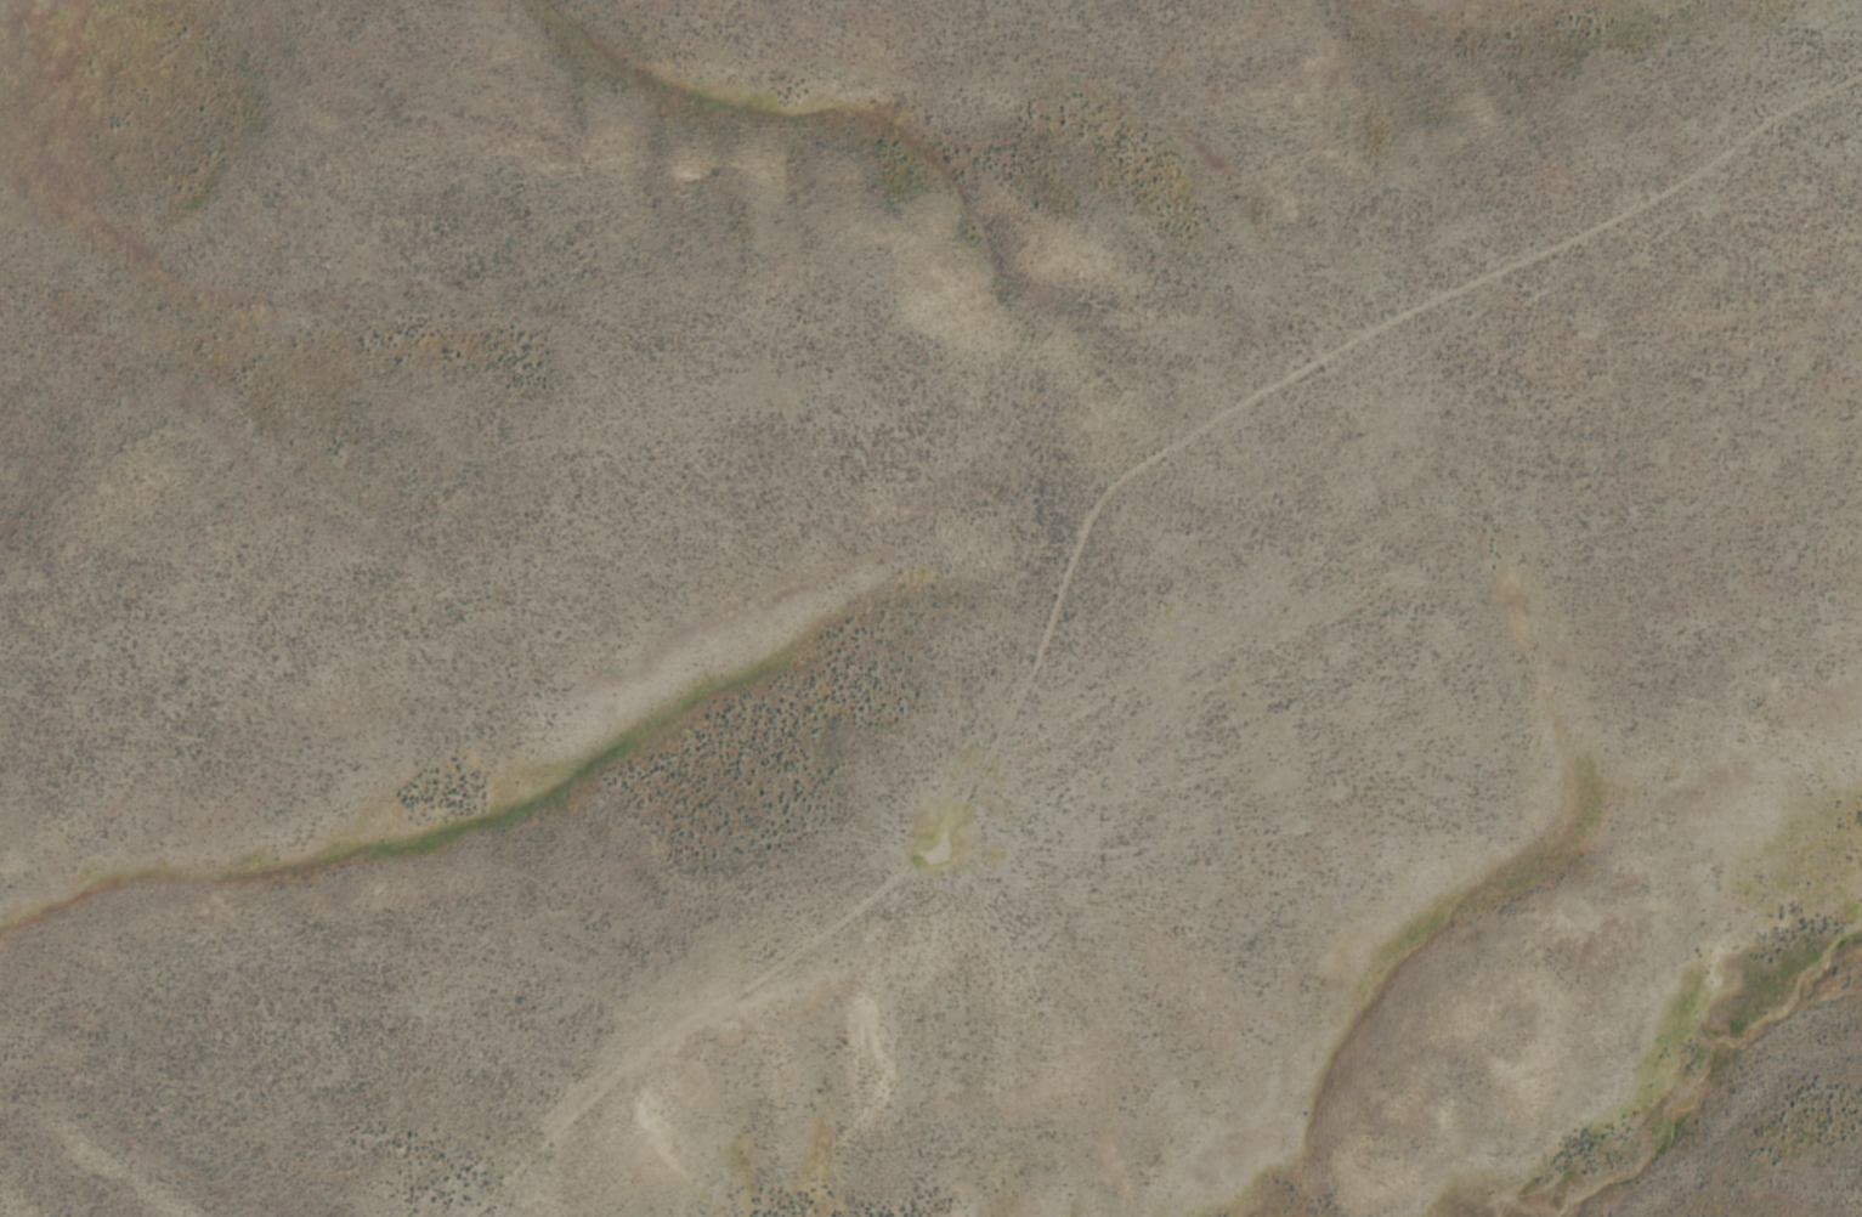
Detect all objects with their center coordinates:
road: (1102, 585)

